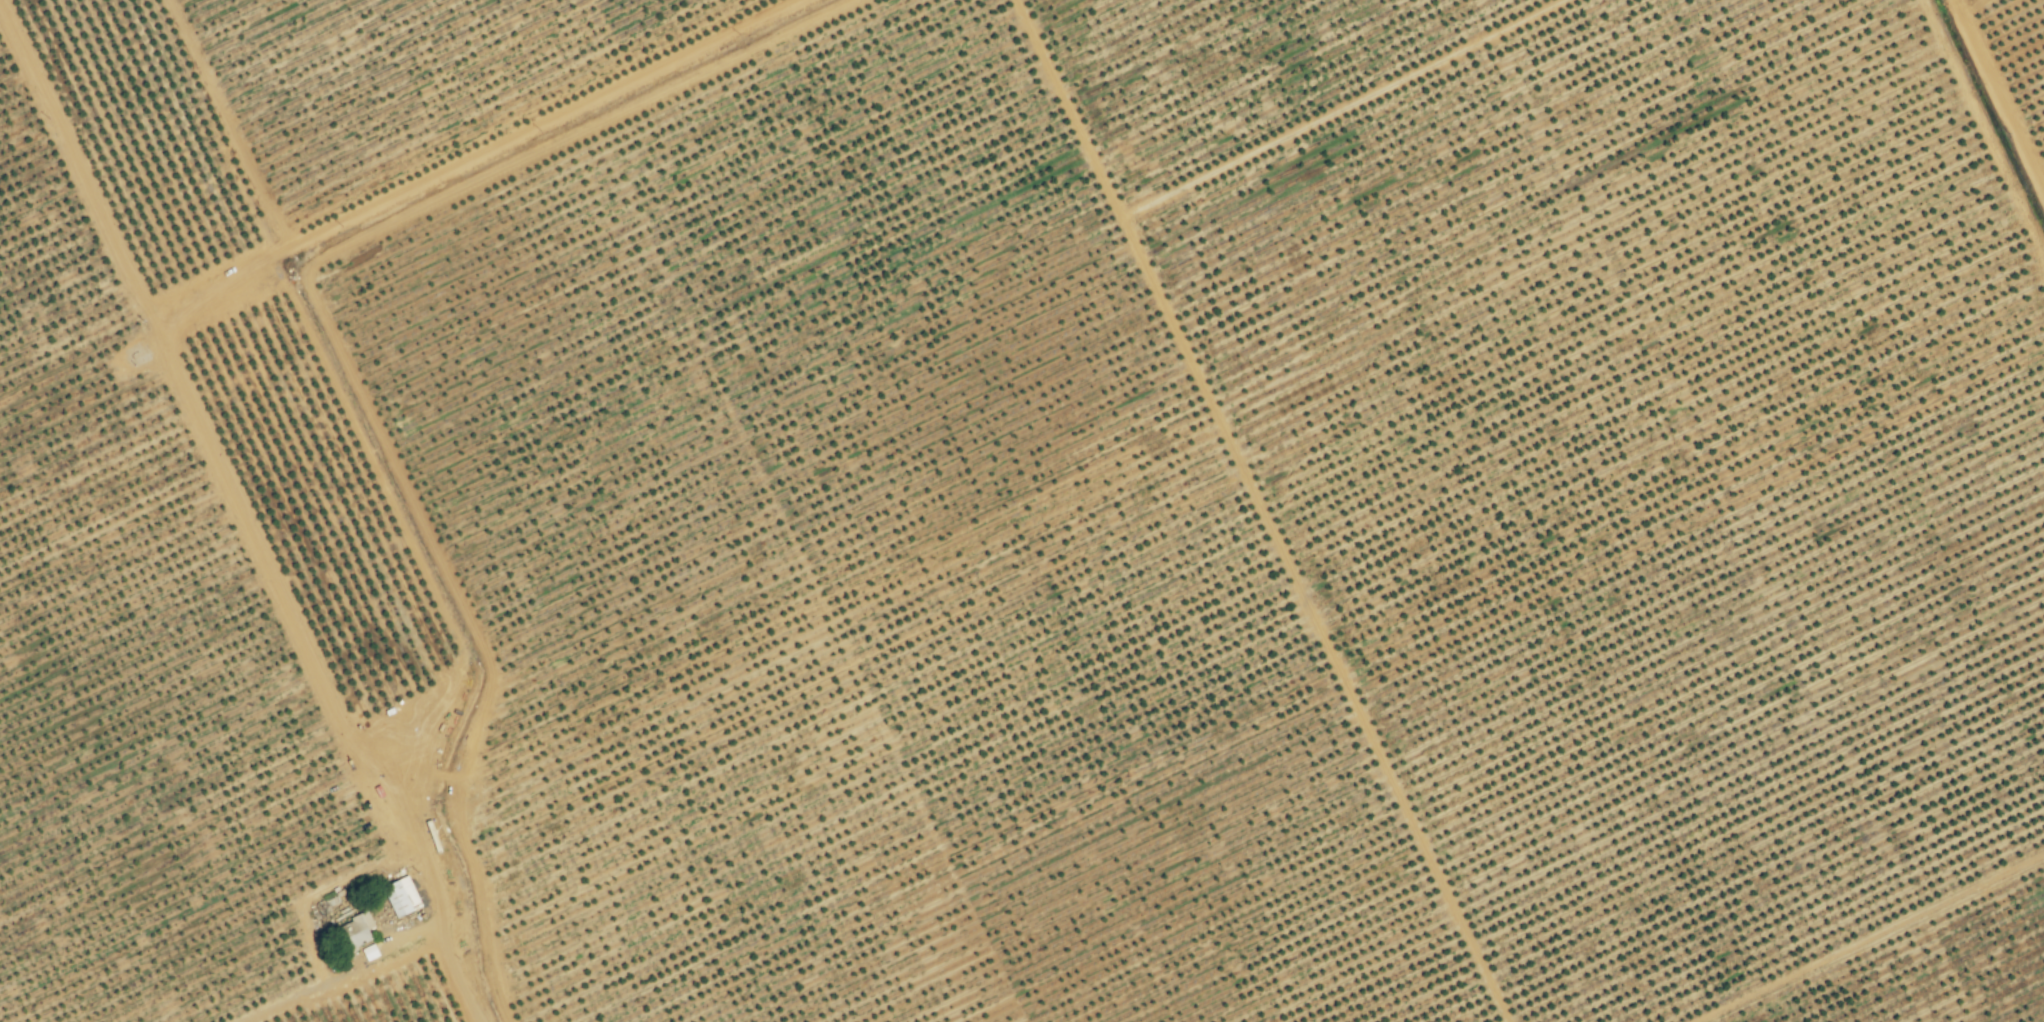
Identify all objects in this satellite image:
road: (1977, 128)
road: (320, 234)
road: (1238, 514)
road: (406, 592)
building: (402, 887)
road: (392, 952)

